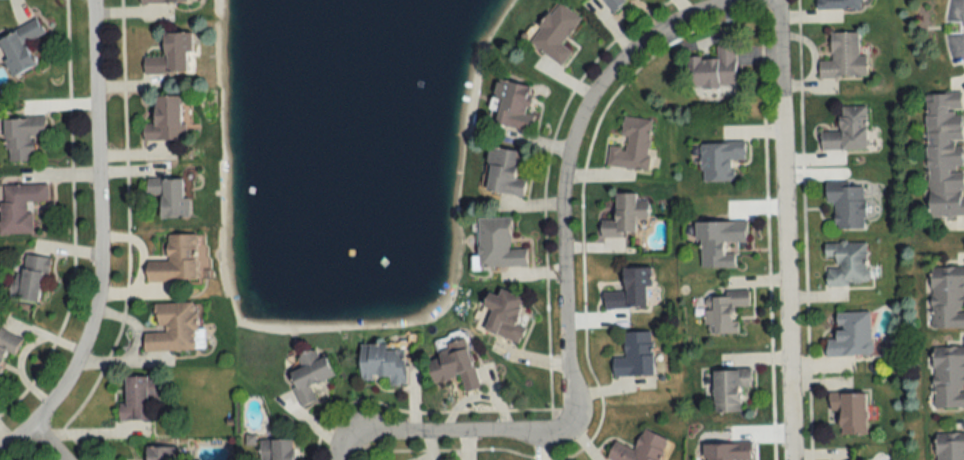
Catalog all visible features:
building: (163, 1)
building: (838, 4)
building: (554, 33)
building: (19, 46)
building: (170, 55)
building: (843, 58)
building: (714, 68)
building: (512, 105)
building: (164, 119)
building: (847, 131)
building: (22, 138)
building: (631, 145)
building: (944, 154)
building: (719, 160)
building: (502, 173)
building: (168, 197)
building: (846, 206)
building: (18, 207)
building: (625, 216)
road: (784, 229)
road: (97, 241)
building: (719, 243)
building: (496, 245)
building: (174, 260)
building: (846, 264)
road: (562, 266)
building: (30, 278)
building: (630, 291)
building: (947, 297)
building: (723, 312)
building: (504, 315)
building: (173, 328)
building: (851, 334)
building: (7, 344)
building: (635, 356)
building: (382, 363)
building: (453, 365)
building: (308, 375)
building: (948, 380)
building: (728, 389)
building: (134, 399)
building: (850, 411)
road: (43, 442)
building: (949, 447)
building: (640, 448)
building: (277, 449)
building: (728, 451)
building: (158, 453)

